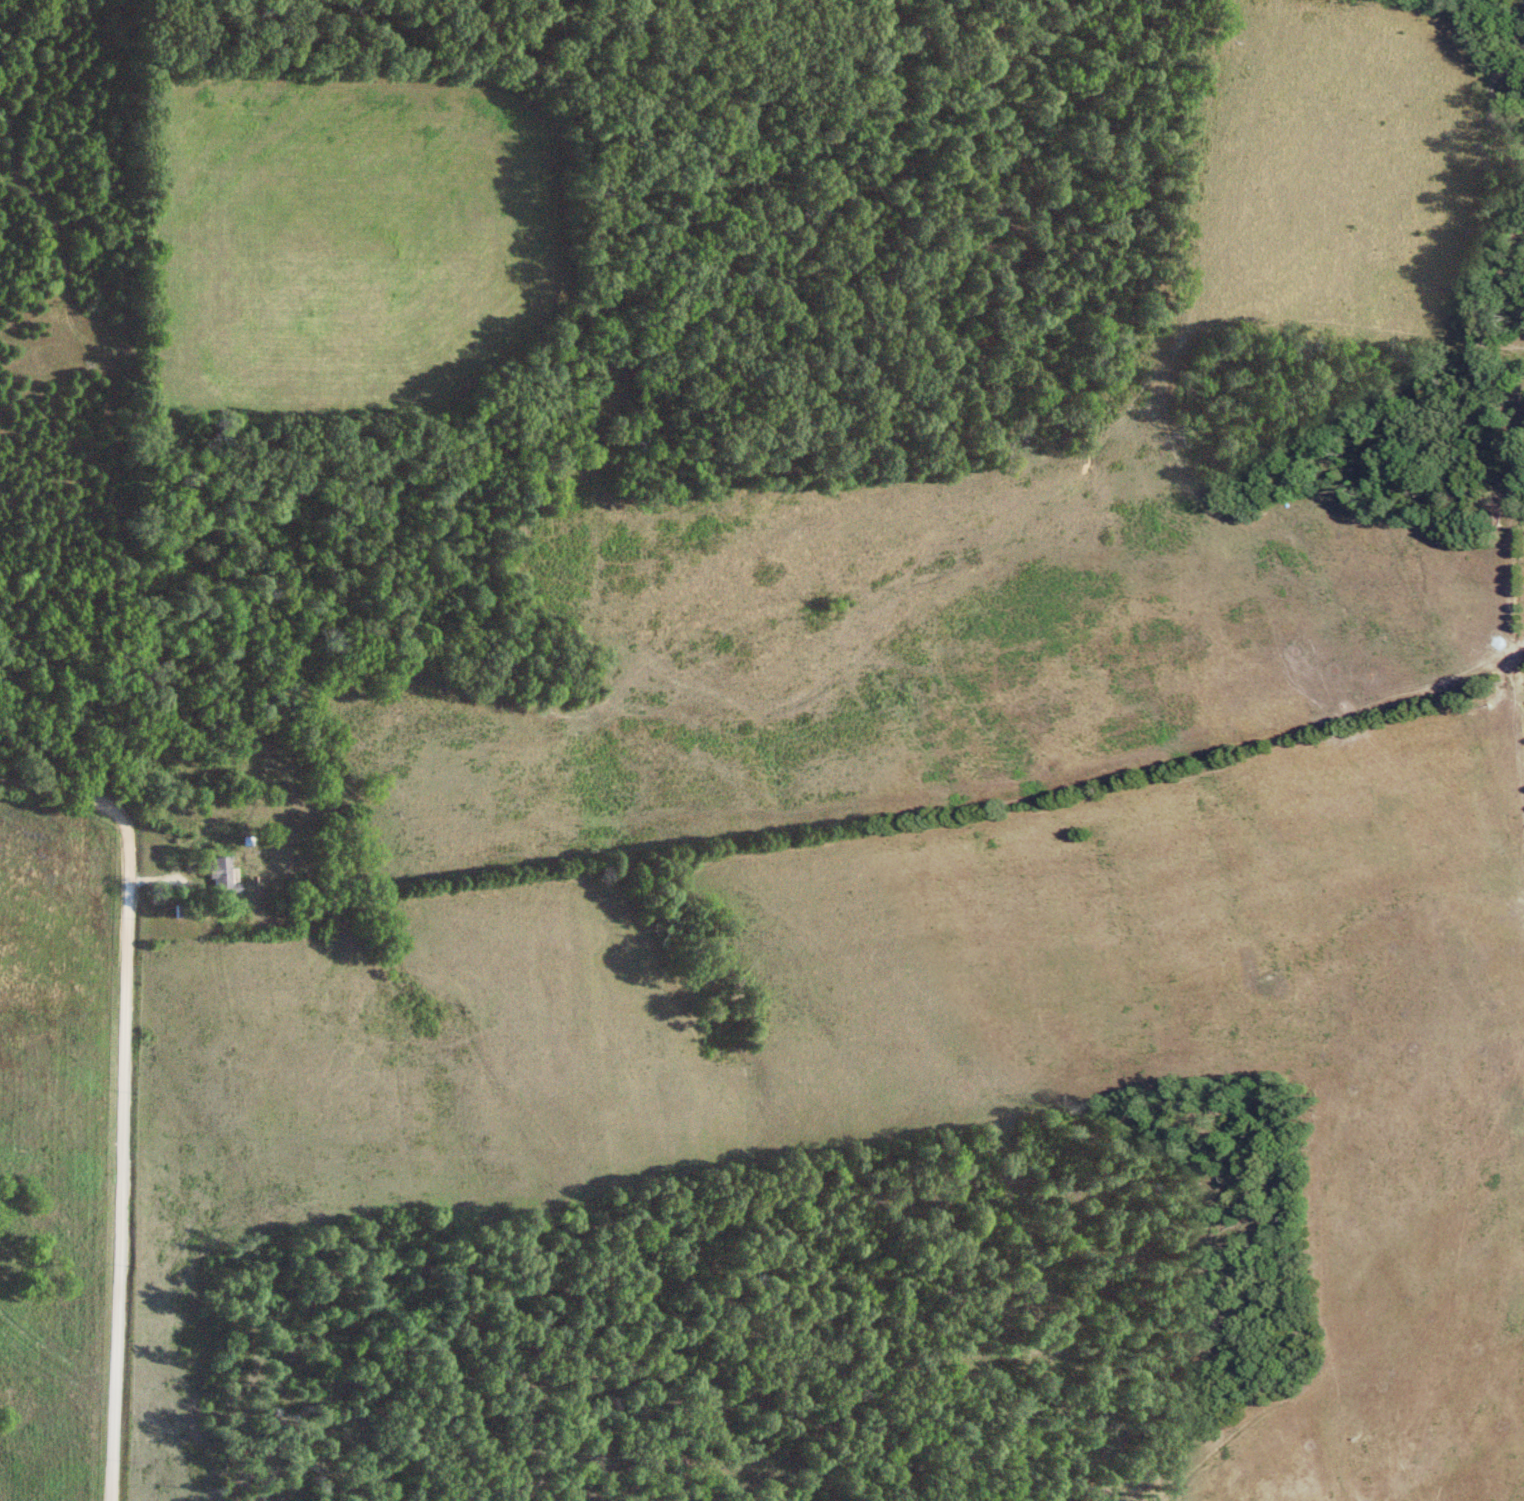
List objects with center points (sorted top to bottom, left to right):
building: (230, 880)
road: (123, 1092)

